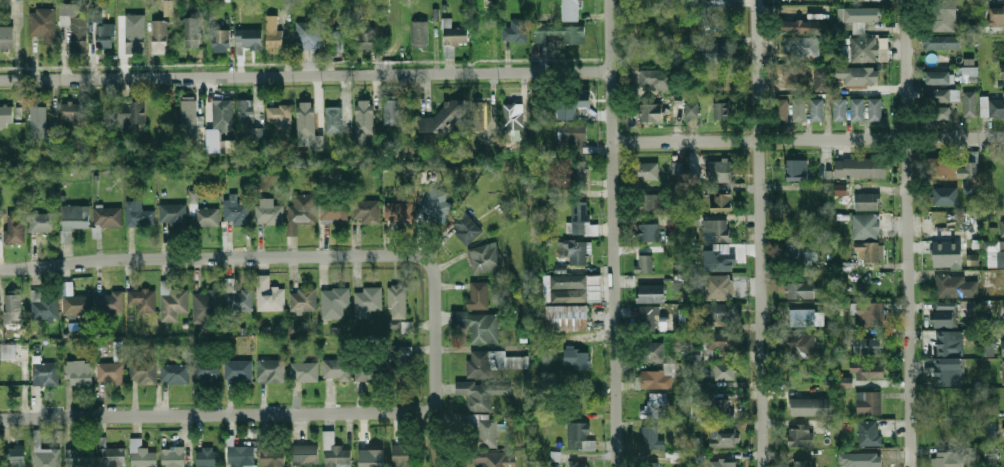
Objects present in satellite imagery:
building: (1002, 1)
building: (168, 8)
building: (571, 10)
building: (859, 15)
building: (997, 15)
building: (944, 16)
building: (74, 23)
building: (43, 24)
building: (815, 26)
building: (516, 30)
building: (192, 32)
building: (274, 33)
building: (160, 34)
building: (422, 34)
building: (455, 34)
building: (561, 34)
building: (105, 35)
building: (135, 35)
building: (308, 35)
building: (366, 37)
building: (7, 38)
building: (249, 39)
building: (341, 39)
building: (221, 40)
building: (941, 42)
building: (678, 45)
building: (801, 46)
building: (857, 49)
building: (1001, 50)
building: (717, 53)
building: (937, 60)
building: (1003, 70)
building: (969, 74)
road: (306, 75)
building: (802, 75)
building: (871, 76)
building: (937, 77)
building: (660, 79)
building: (821, 79)
building: (937, 95)
building: (572, 102)
building: (970, 105)
building: (993, 108)
building: (692, 109)
building: (800, 109)
building: (817, 109)
building: (840, 109)
building: (858, 109)
building: (876, 109)
building: (722, 110)
building: (782, 110)
building: (245, 111)
building: (132, 112)
building: (367, 112)
building: (392, 112)
building: (651, 112)
building: (221, 113)
building: (539, 113)
building: (942, 113)
building: (71, 114)
building: (188, 114)
building: (478, 115)
building: (279, 116)
building: (514, 116)
building: (6, 117)
building: (442, 118)
building: (39, 120)
building: (334, 121)
building: (308, 128)
building: (257, 134)
building: (574, 136)
road: (809, 140)
building: (213, 141)
building: (228, 147)
building: (941, 166)
building: (971, 166)
building: (677, 168)
building: (863, 168)
building: (795, 169)
building: (649, 170)
building: (720, 171)
building: (578, 173)
building: (840, 189)
building: (945, 196)
building: (802, 200)
building: (868, 201)
building: (651, 202)
building: (723, 202)
building: (437, 205)
building: (335, 210)
building: (268, 211)
building: (366, 211)
building: (300, 212)
building: (173, 213)
building: (203, 213)
building: (235, 213)
building: (398, 213)
building: (139, 215)
building: (108, 216)
building: (75, 217)
building: (582, 219)
building: (43, 222)
building: (465, 226)
building: (865, 226)
building: (15, 228)
building: (1002, 228)
building: (717, 230)
building: (649, 231)
road: (614, 233)
road: (759, 233)
road: (907, 233)
building: (573, 250)
building: (804, 251)
building: (869, 251)
building: (1003, 254)
road: (216, 258)
building: (485, 258)
building: (948, 258)
building: (973, 259)
building: (718, 262)
building: (645, 263)
building: (680, 281)
building: (956, 286)
building: (719, 287)
building: (573, 288)
building: (800, 291)
building: (652, 294)
building: (269, 295)
building: (237, 298)
building: (143, 299)
building: (303, 300)
building: (172, 302)
building: (367, 302)
building: (397, 302)
building: (109, 303)
building: (335, 304)
building: (77, 305)
building: (43, 306)
building: (205, 307)
building: (13, 308)
building: (968, 308)
building: (721, 312)
building: (568, 314)
building: (871, 314)
building: (479, 315)
building: (946, 315)
building: (802, 317)
building: (647, 319)
building: (400, 326)
building: (723, 340)
building: (800, 344)
building: (952, 344)
building: (867, 345)
building: (152, 346)
building: (1003, 346)
building: (991, 348)
building: (8, 351)
building: (400, 351)
building: (652, 352)
building: (118, 353)
building: (577, 358)
road: (437, 365)
building: (476, 366)
building: (335, 368)
building: (397, 369)
building: (271, 370)
building: (143, 371)
building: (206, 371)
building: (238, 371)
building: (368, 371)
building: (725, 371)
building: (869, 371)
building: (302, 372)
building: (949, 372)
building: (1003, 372)
building: (44, 373)
building: (79, 373)
building: (110, 373)
building: (175, 374)
building: (11, 375)
building: (655, 379)
building: (845, 382)
building: (479, 395)
building: (693, 399)
building: (869, 403)
building: (803, 406)
building: (654, 407)
building: (722, 409)
road: (219, 415)
building: (1003, 429)
building: (480, 430)
building: (867, 430)
building: (991, 432)
building: (580, 436)
building: (650, 436)
building: (799, 436)
building: (721, 438)
building: (335, 452)
building: (371, 452)
building: (990, 452)
building: (44, 454)
building: (141, 455)
building: (241, 455)
building: (401, 455)
building: (17, 456)
building: (273, 456)
building: (676, 456)
building: (112, 457)
building: (173, 457)
building: (209, 457)
building: (79, 458)
building: (306, 458)
building: (490, 458)
building: (945, 460)
building: (724, 463)
building: (800, 463)
building: (580, 464)
building: (651, 464)
building: (869, 465)

